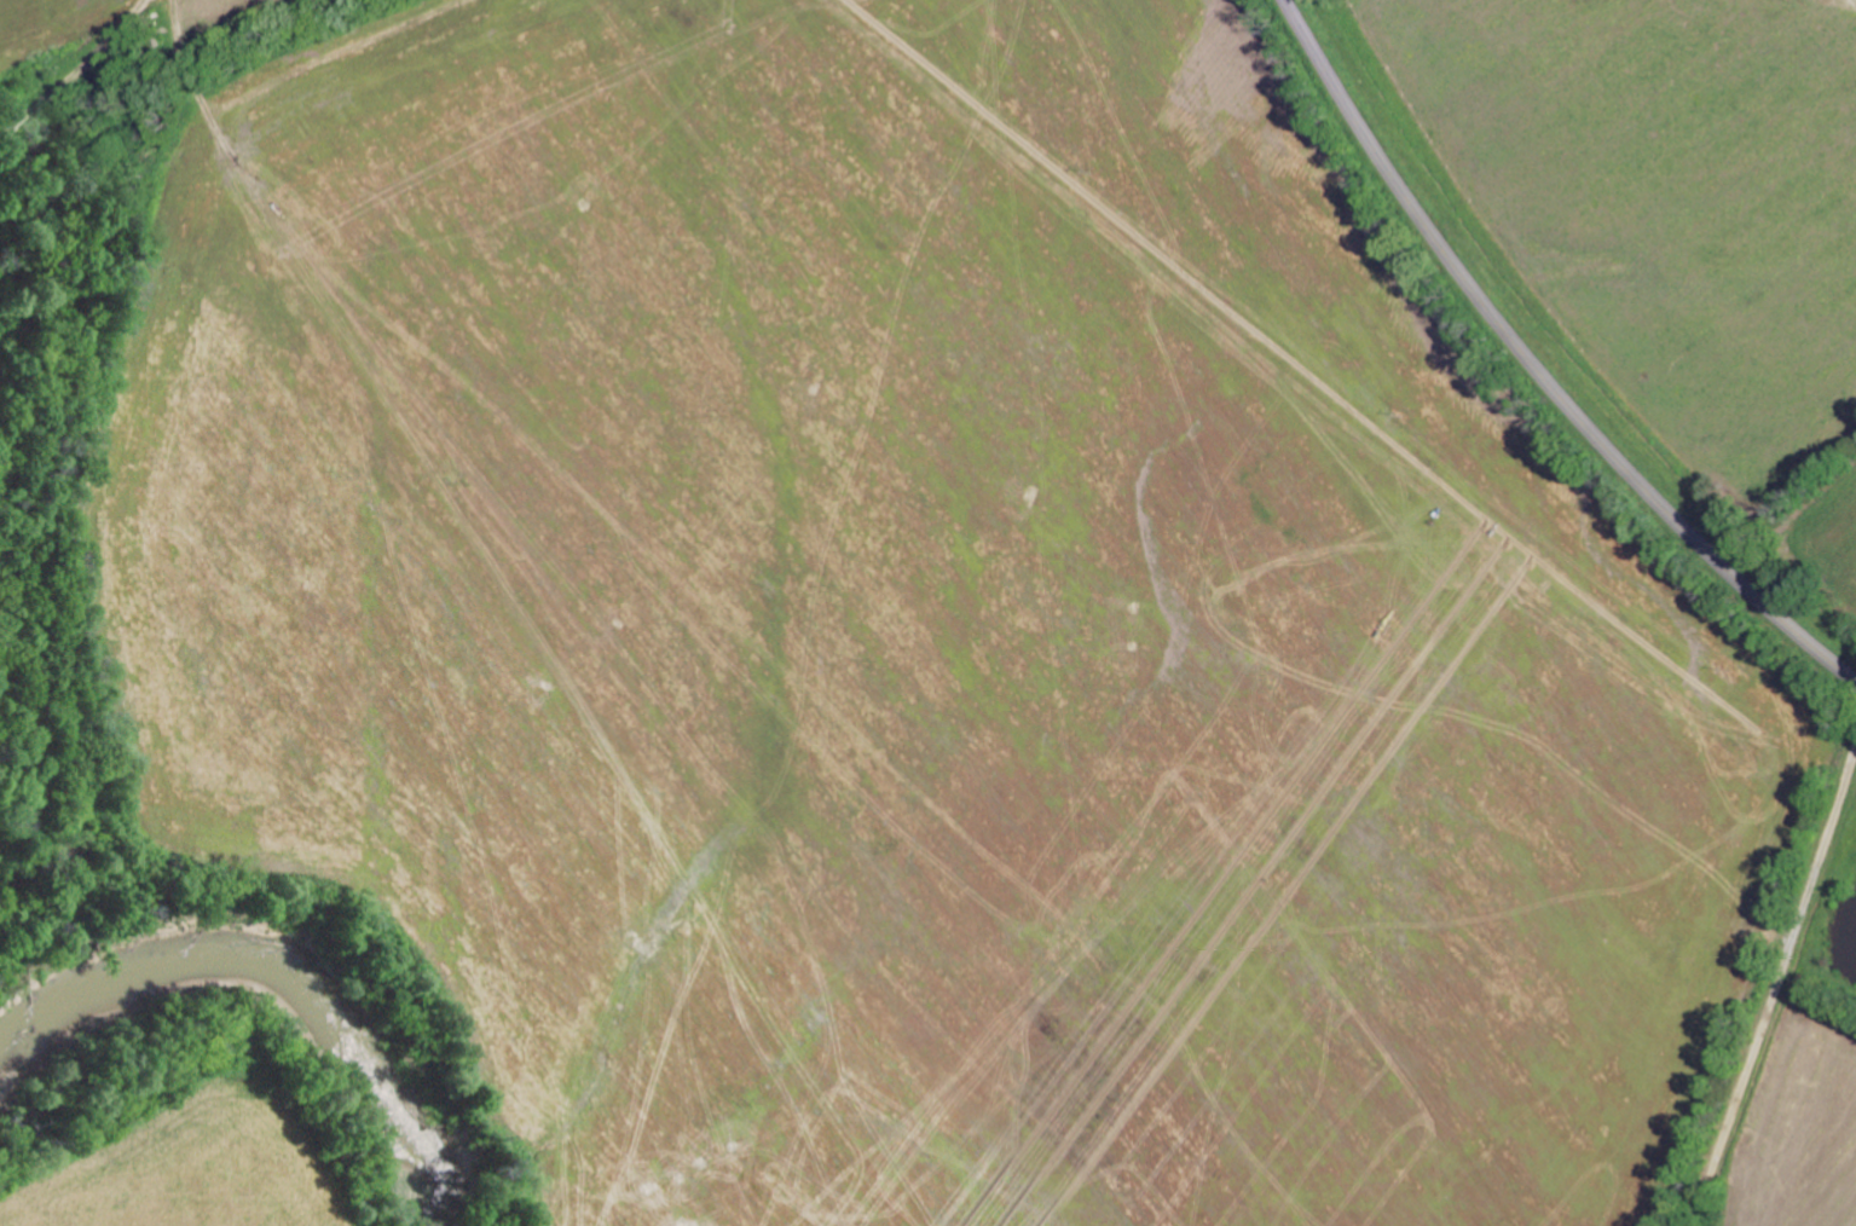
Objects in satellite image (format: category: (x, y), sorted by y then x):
road: (1536, 372)
road: (1779, 976)

